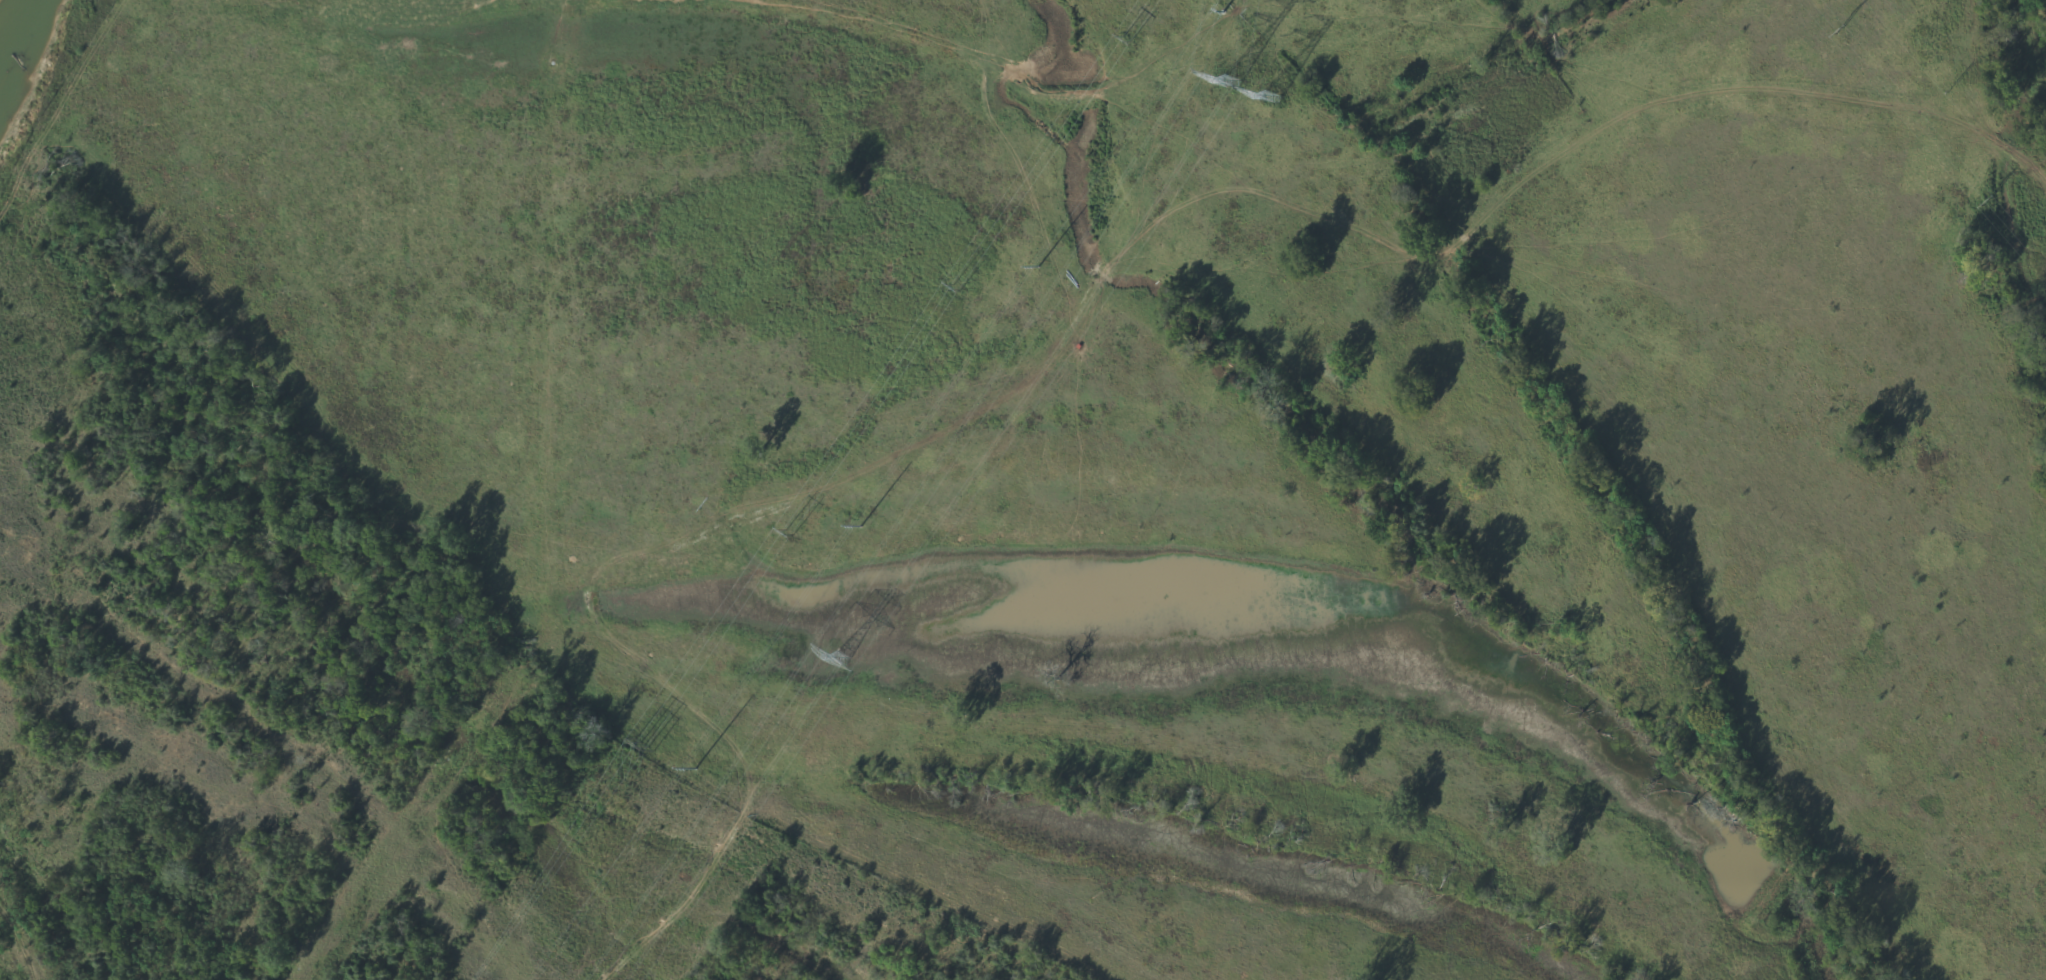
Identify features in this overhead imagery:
power tower: (1222, 12)
power tower: (1842, 30)
power tower: (1129, 41)
power tower: (1235, 75)
power tower: (1988, 200)
power tower: (1039, 267)
power tower: (861, 526)
power tower: (788, 532)
power tower: (845, 657)
power tower: (645, 745)
power tower: (695, 769)

